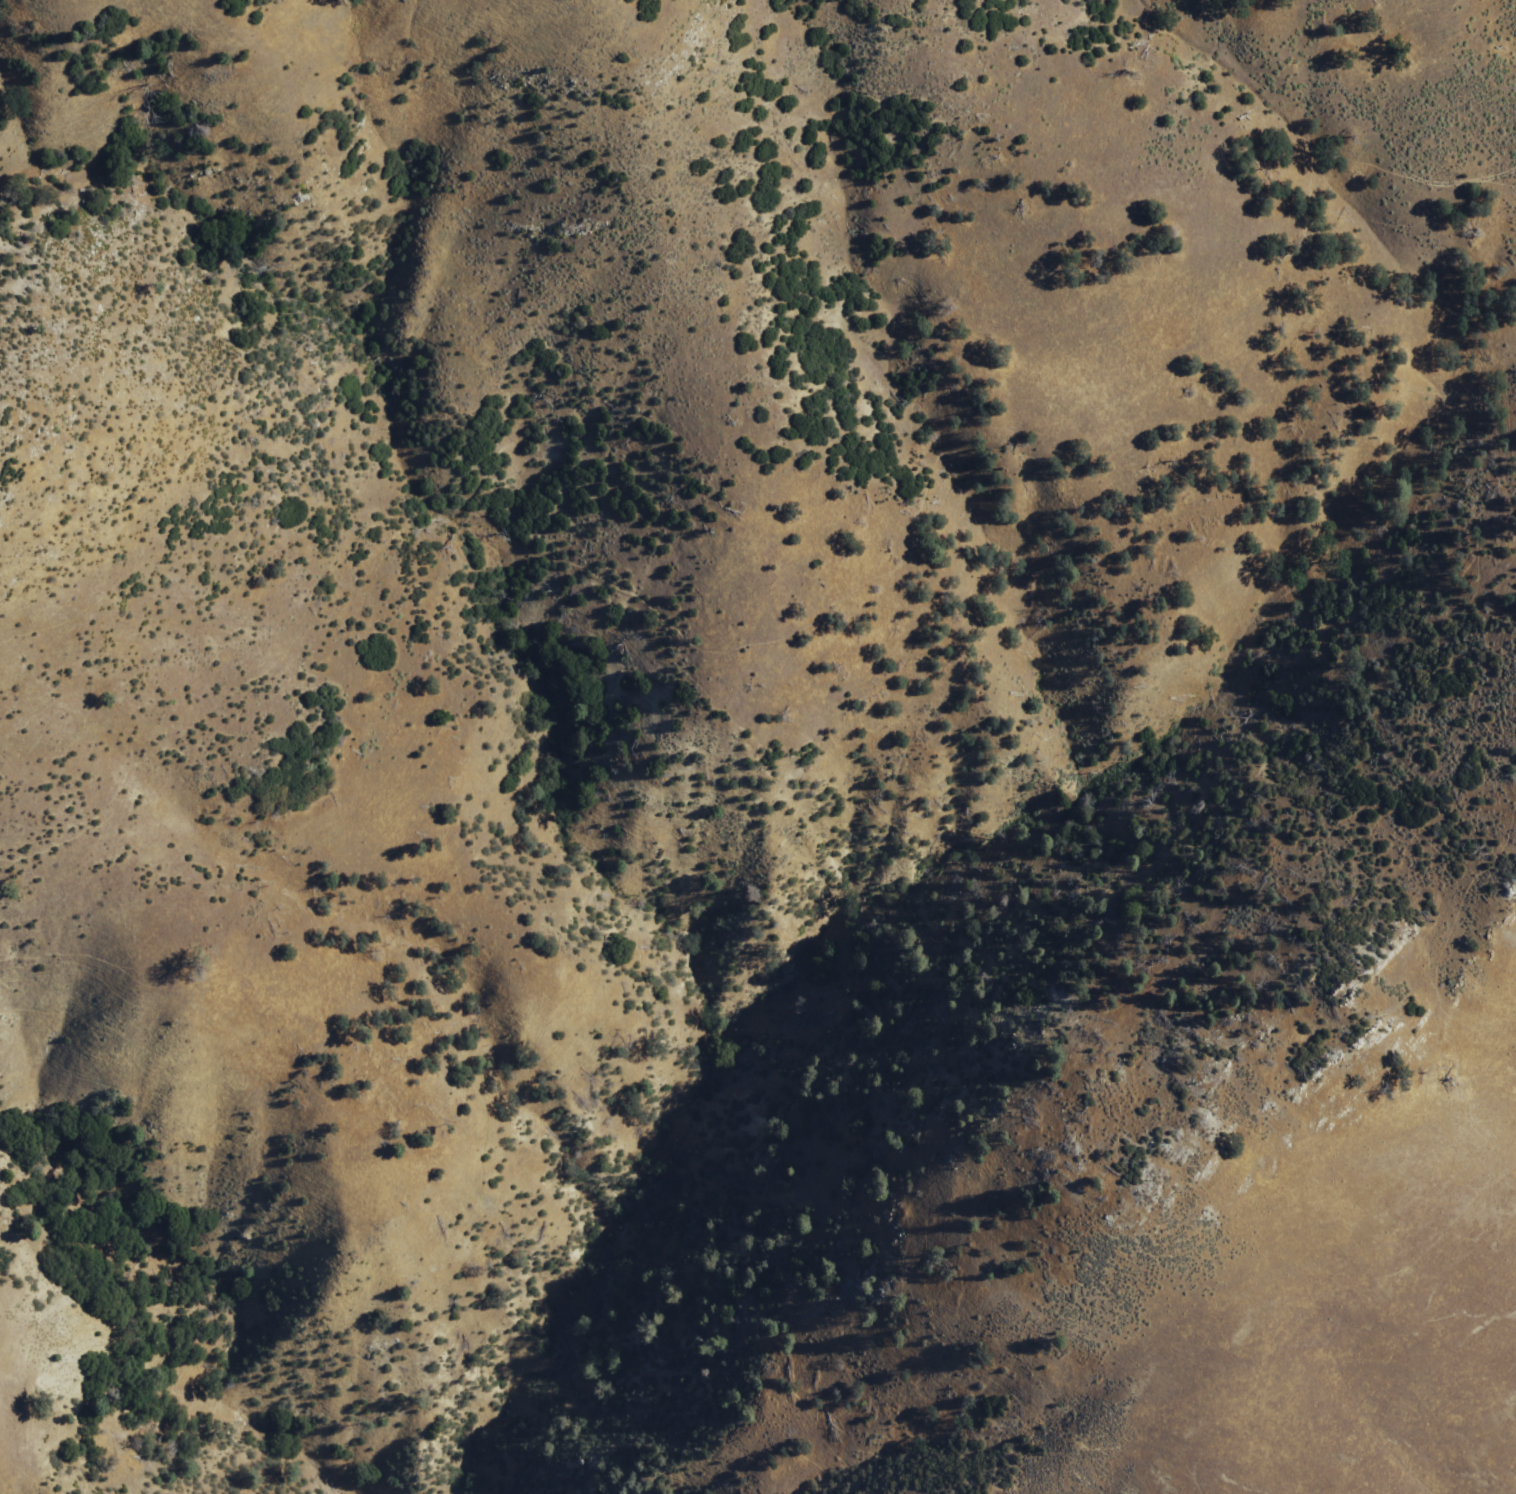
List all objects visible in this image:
road: (1396, 158)

